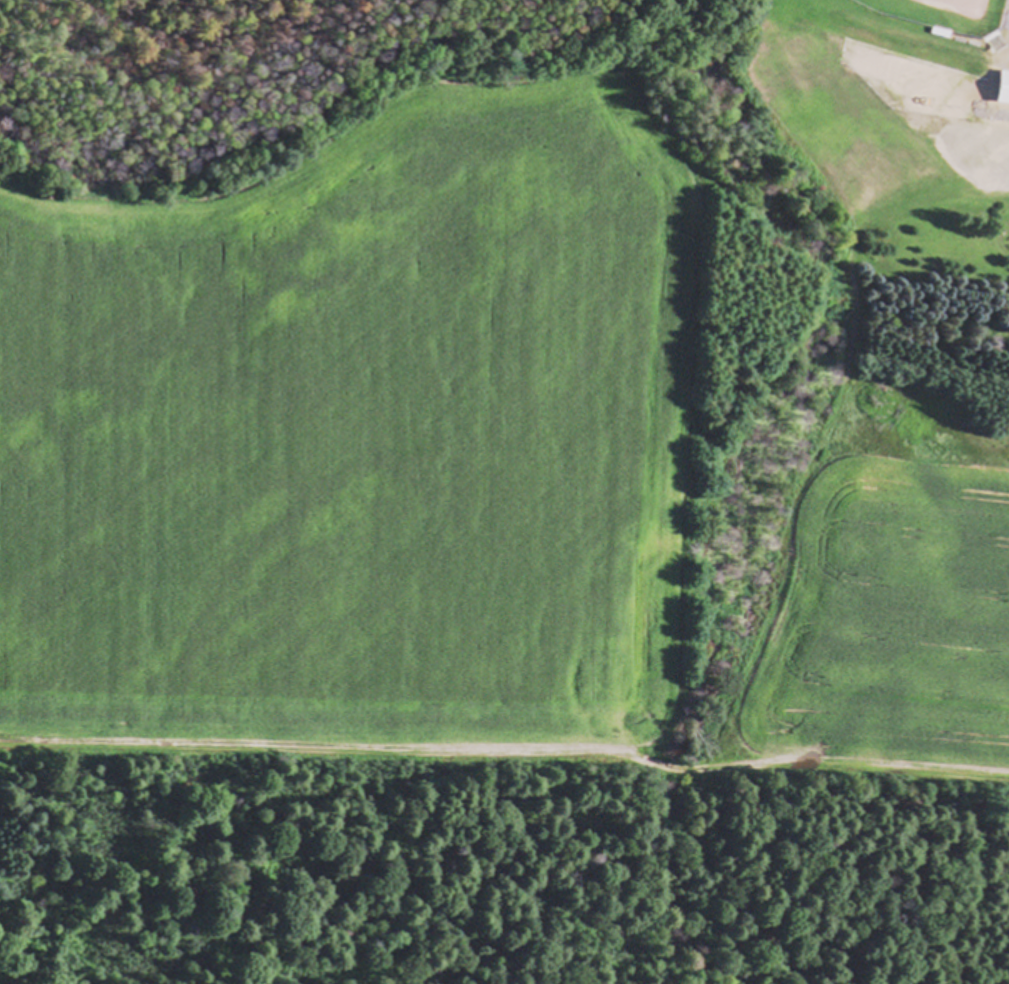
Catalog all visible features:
building: (1001, 88)

